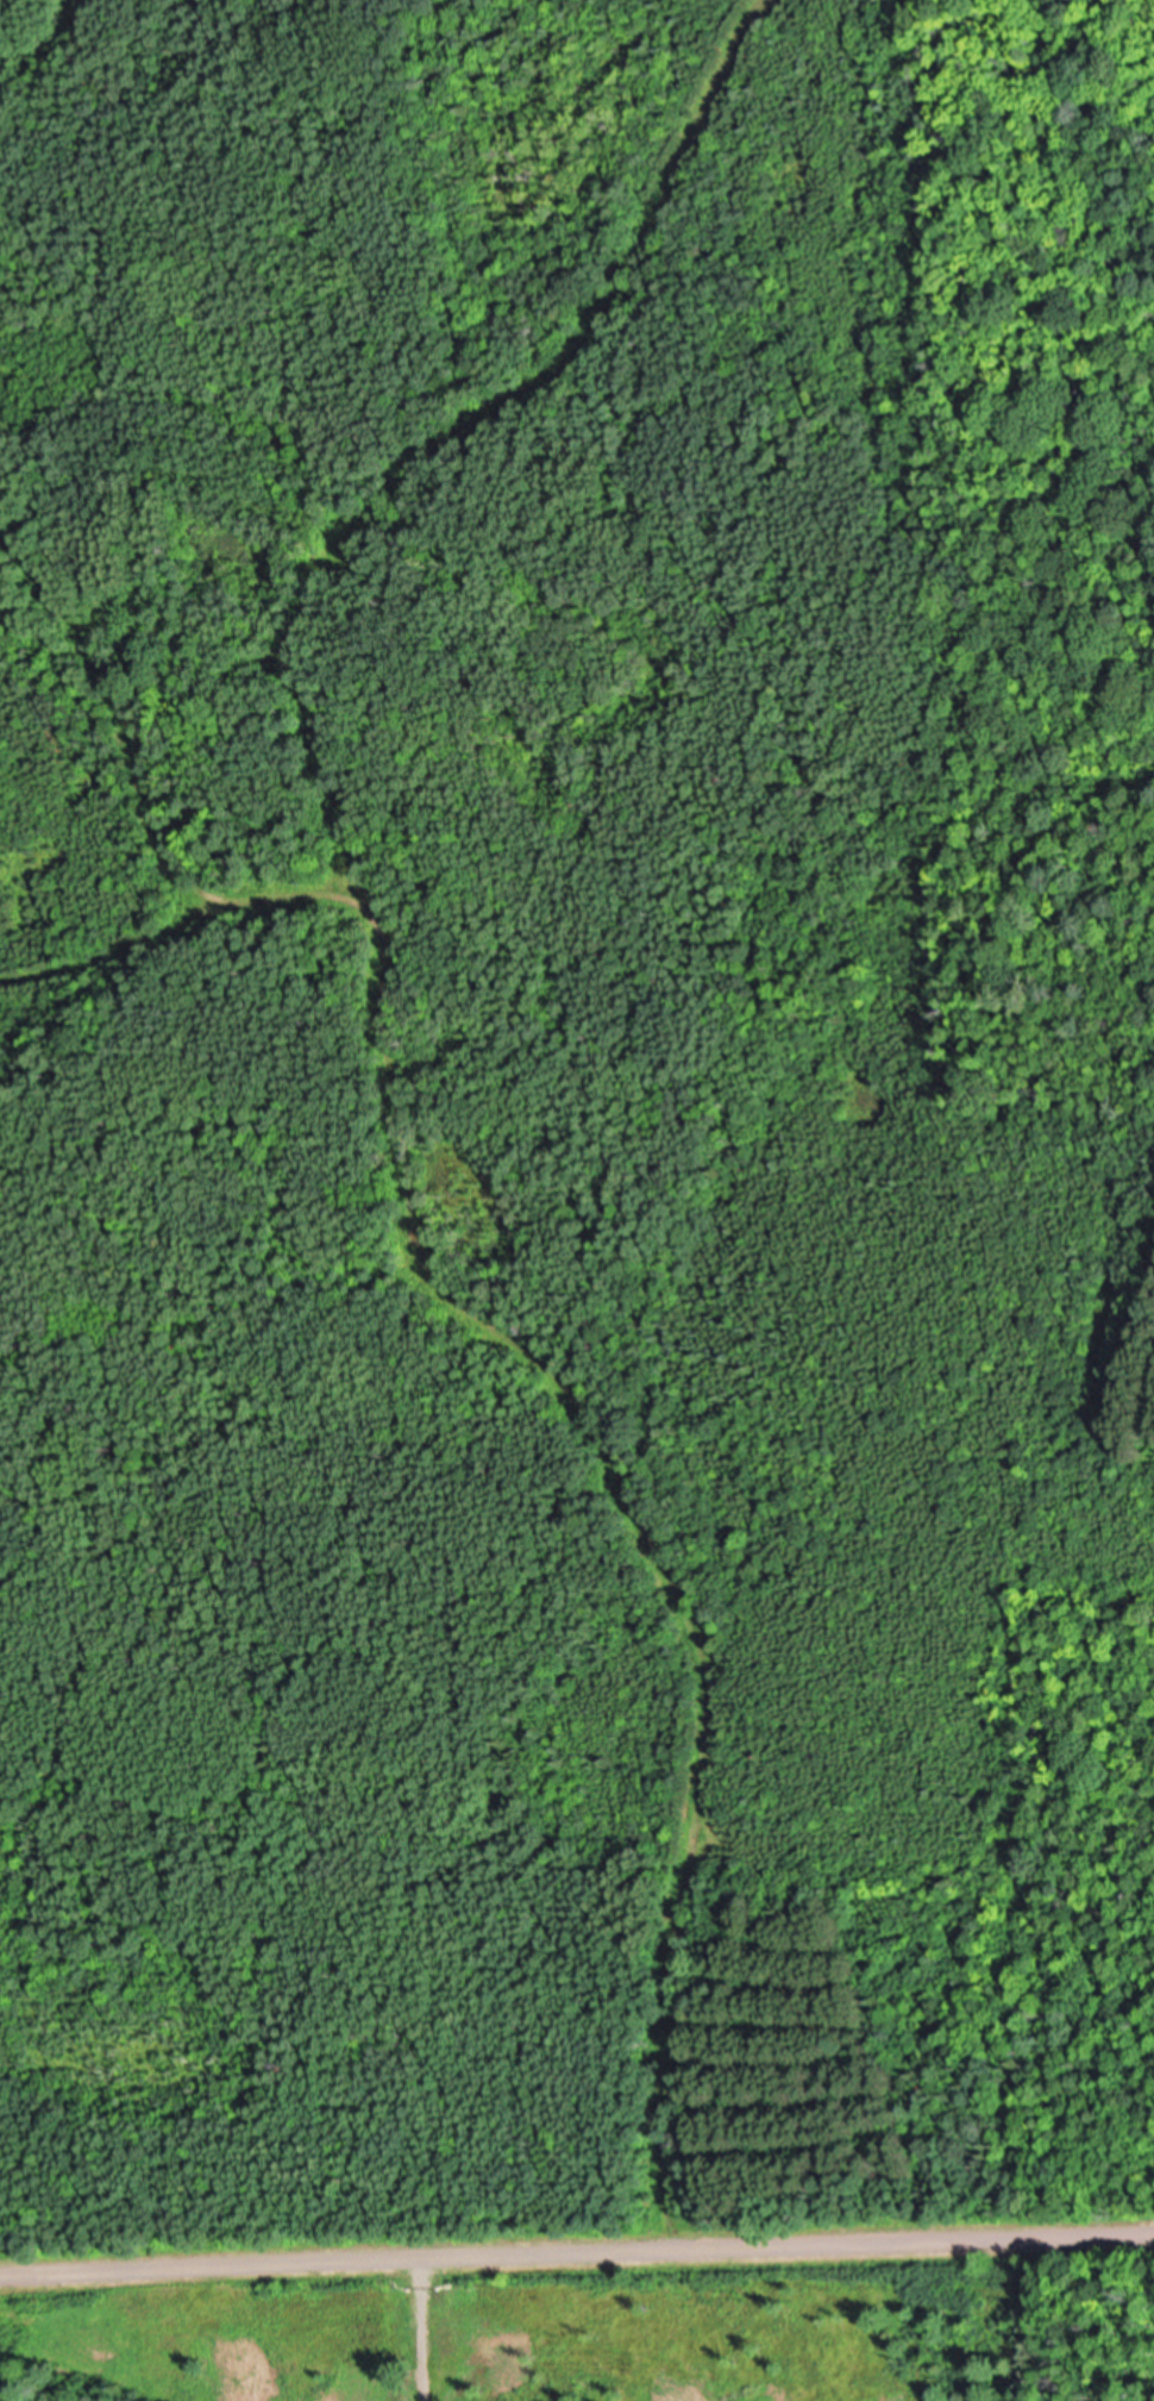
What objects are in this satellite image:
road: (577, 2250)
park: (1108, 2319)

